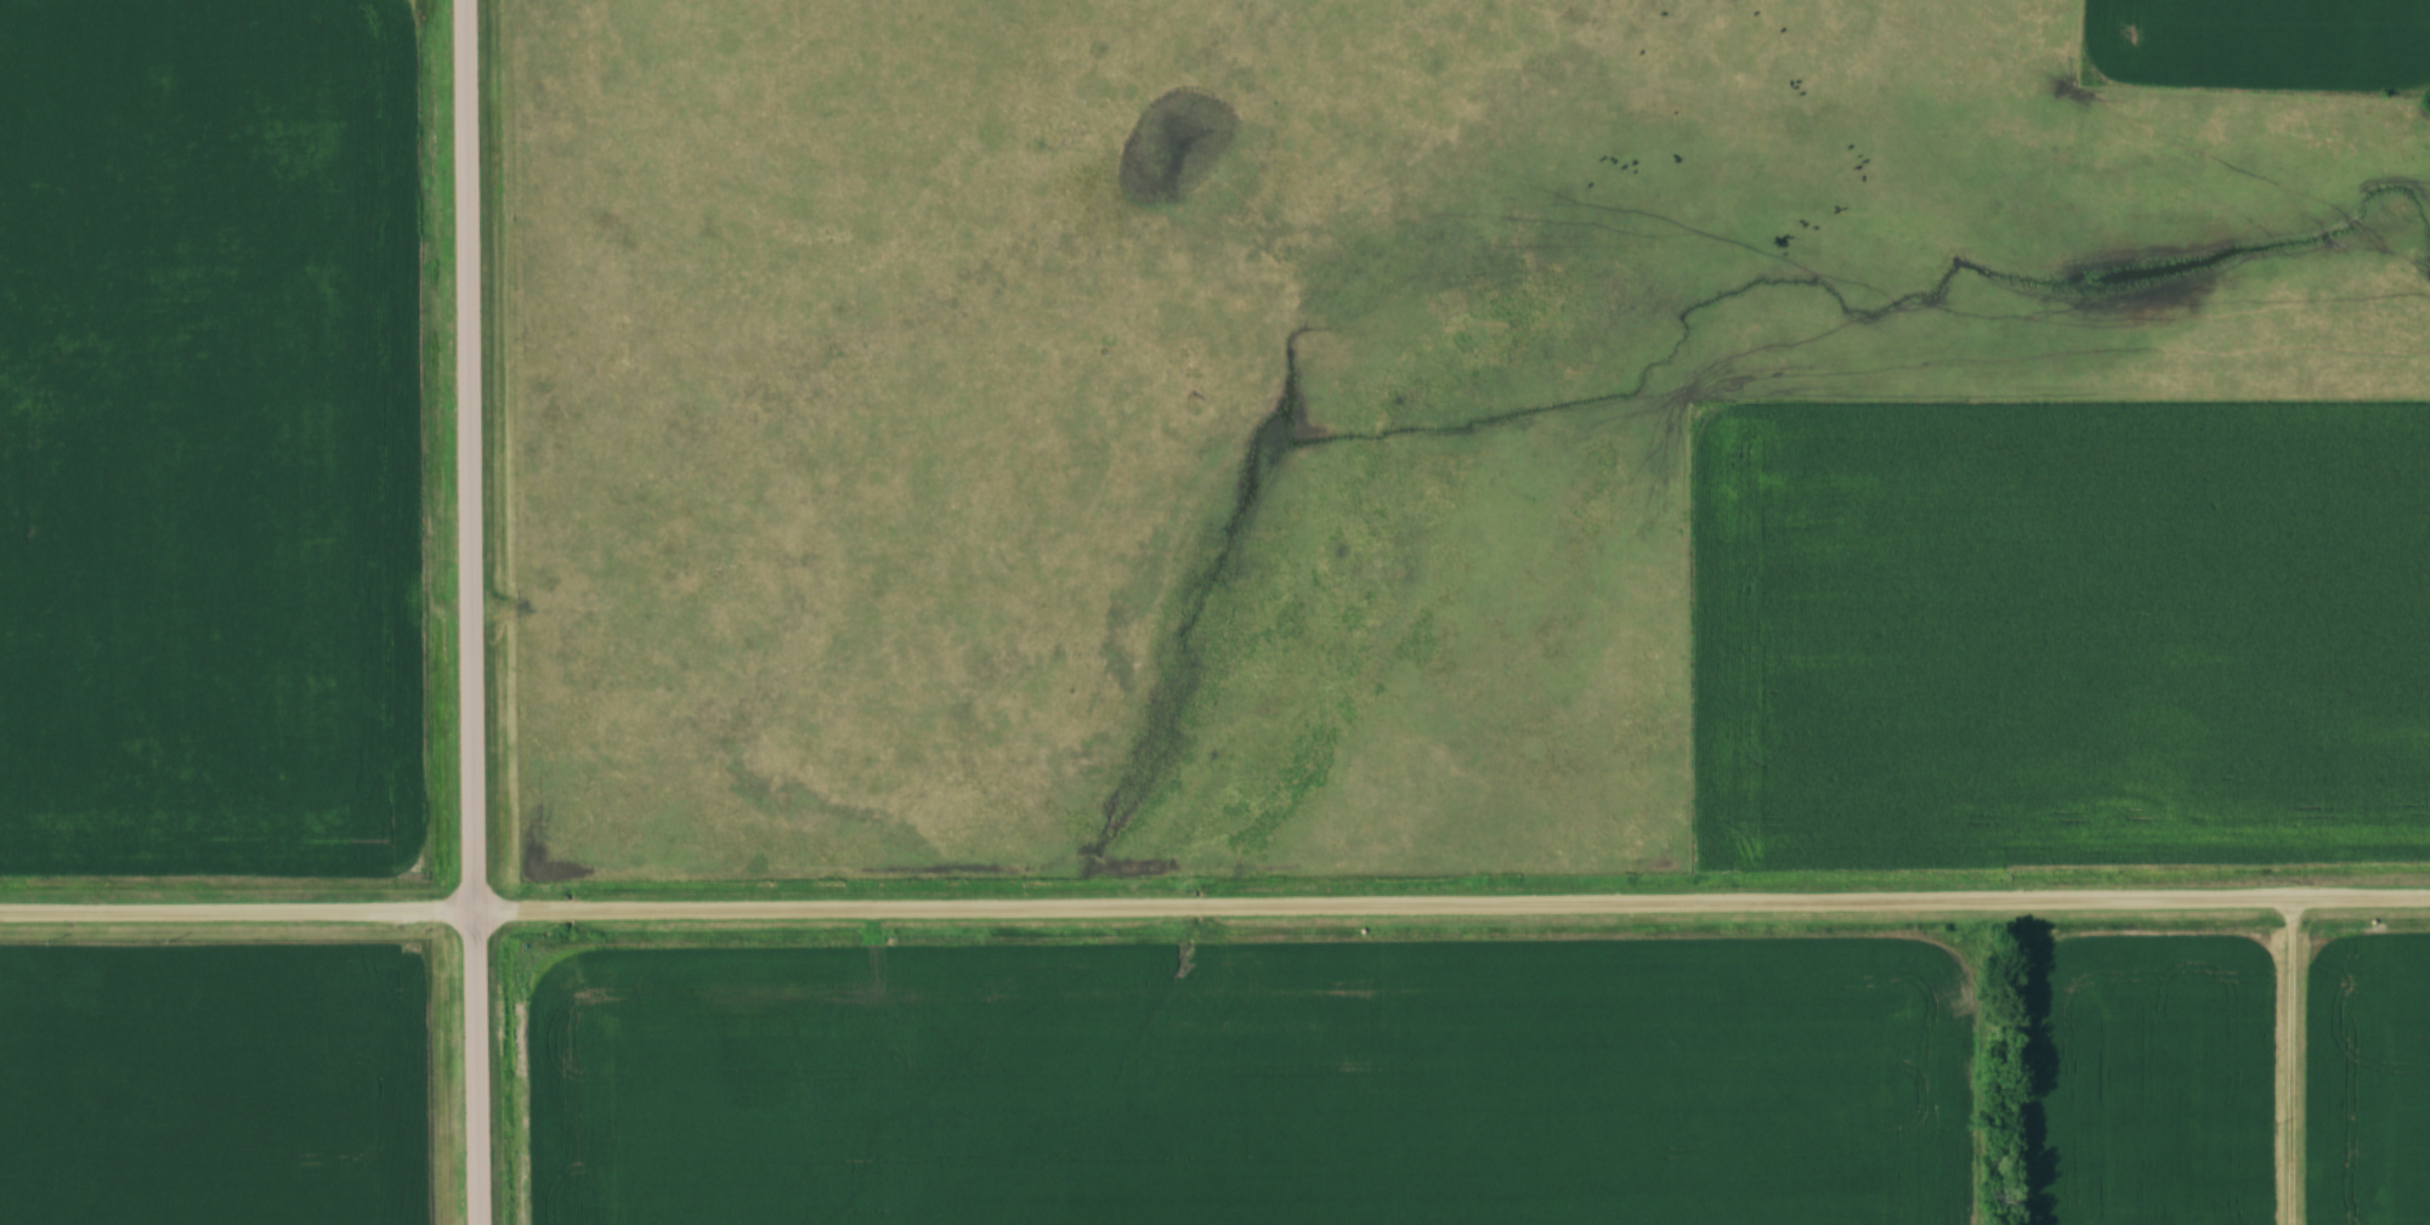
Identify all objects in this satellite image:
road: (465, 612)
road: (1214, 908)
road: (2288, 1062)

